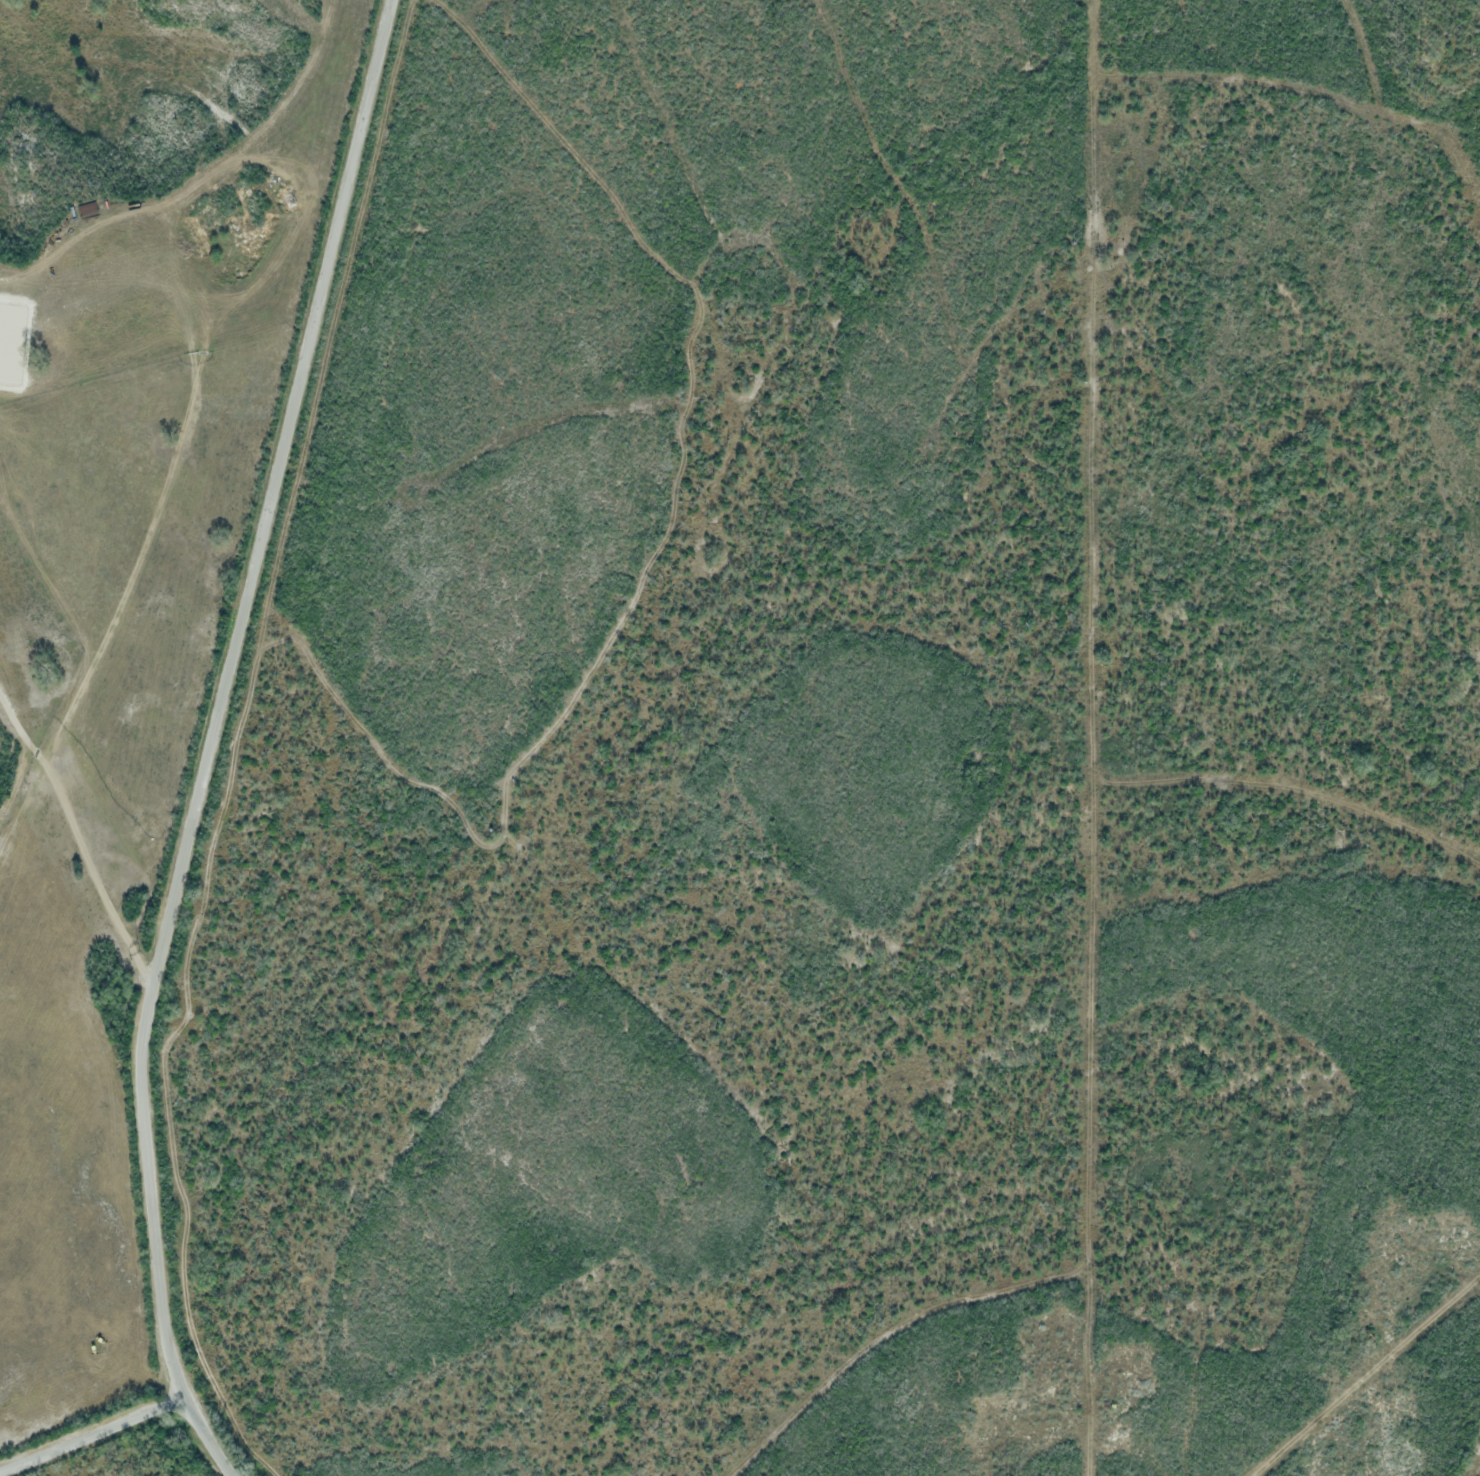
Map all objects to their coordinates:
road: (213, 739)
road: (1358, 1363)
road: (91, 1433)

